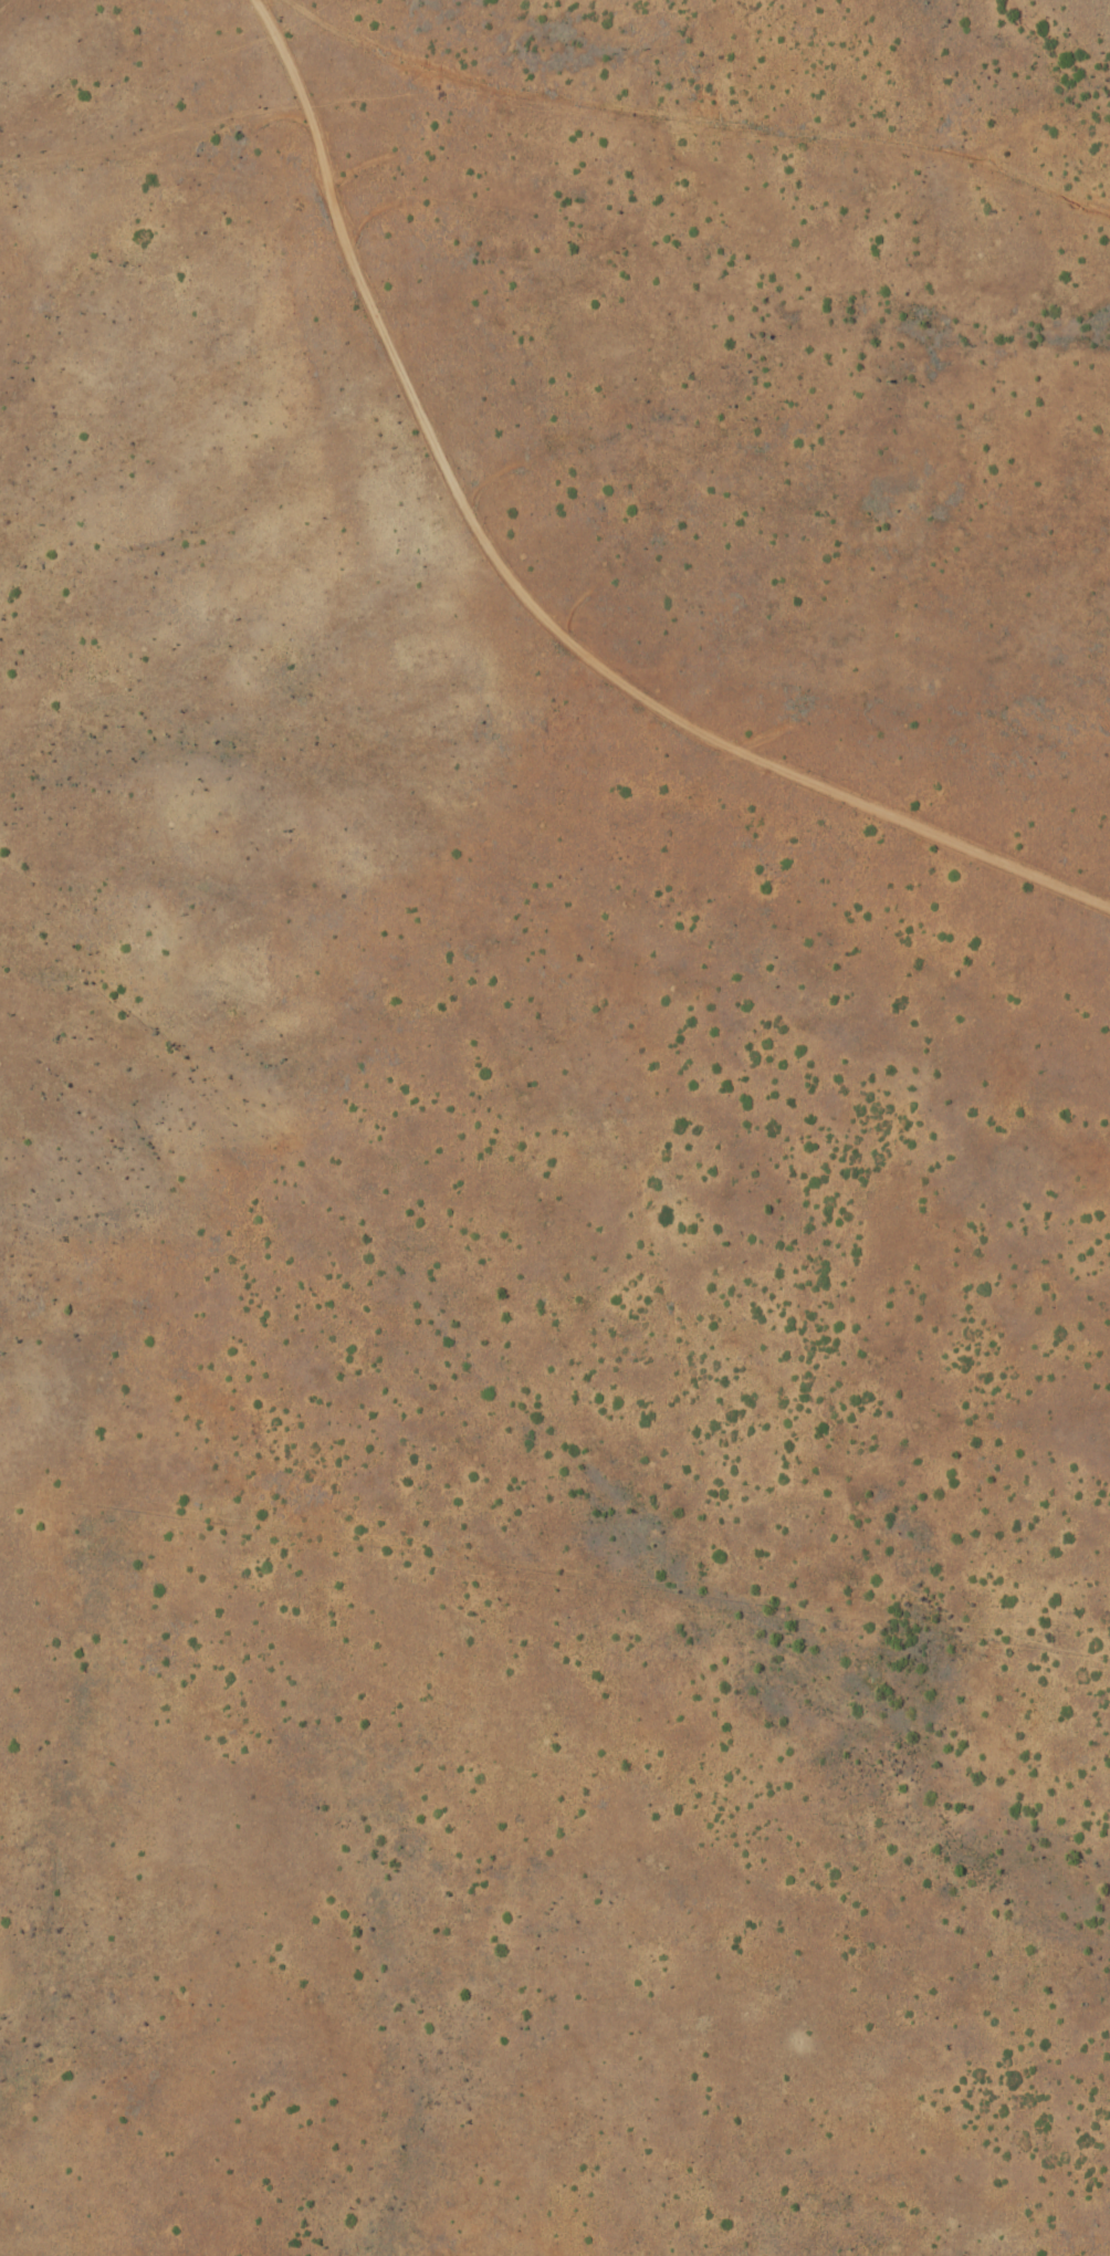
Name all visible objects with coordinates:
road: (779, 82)

